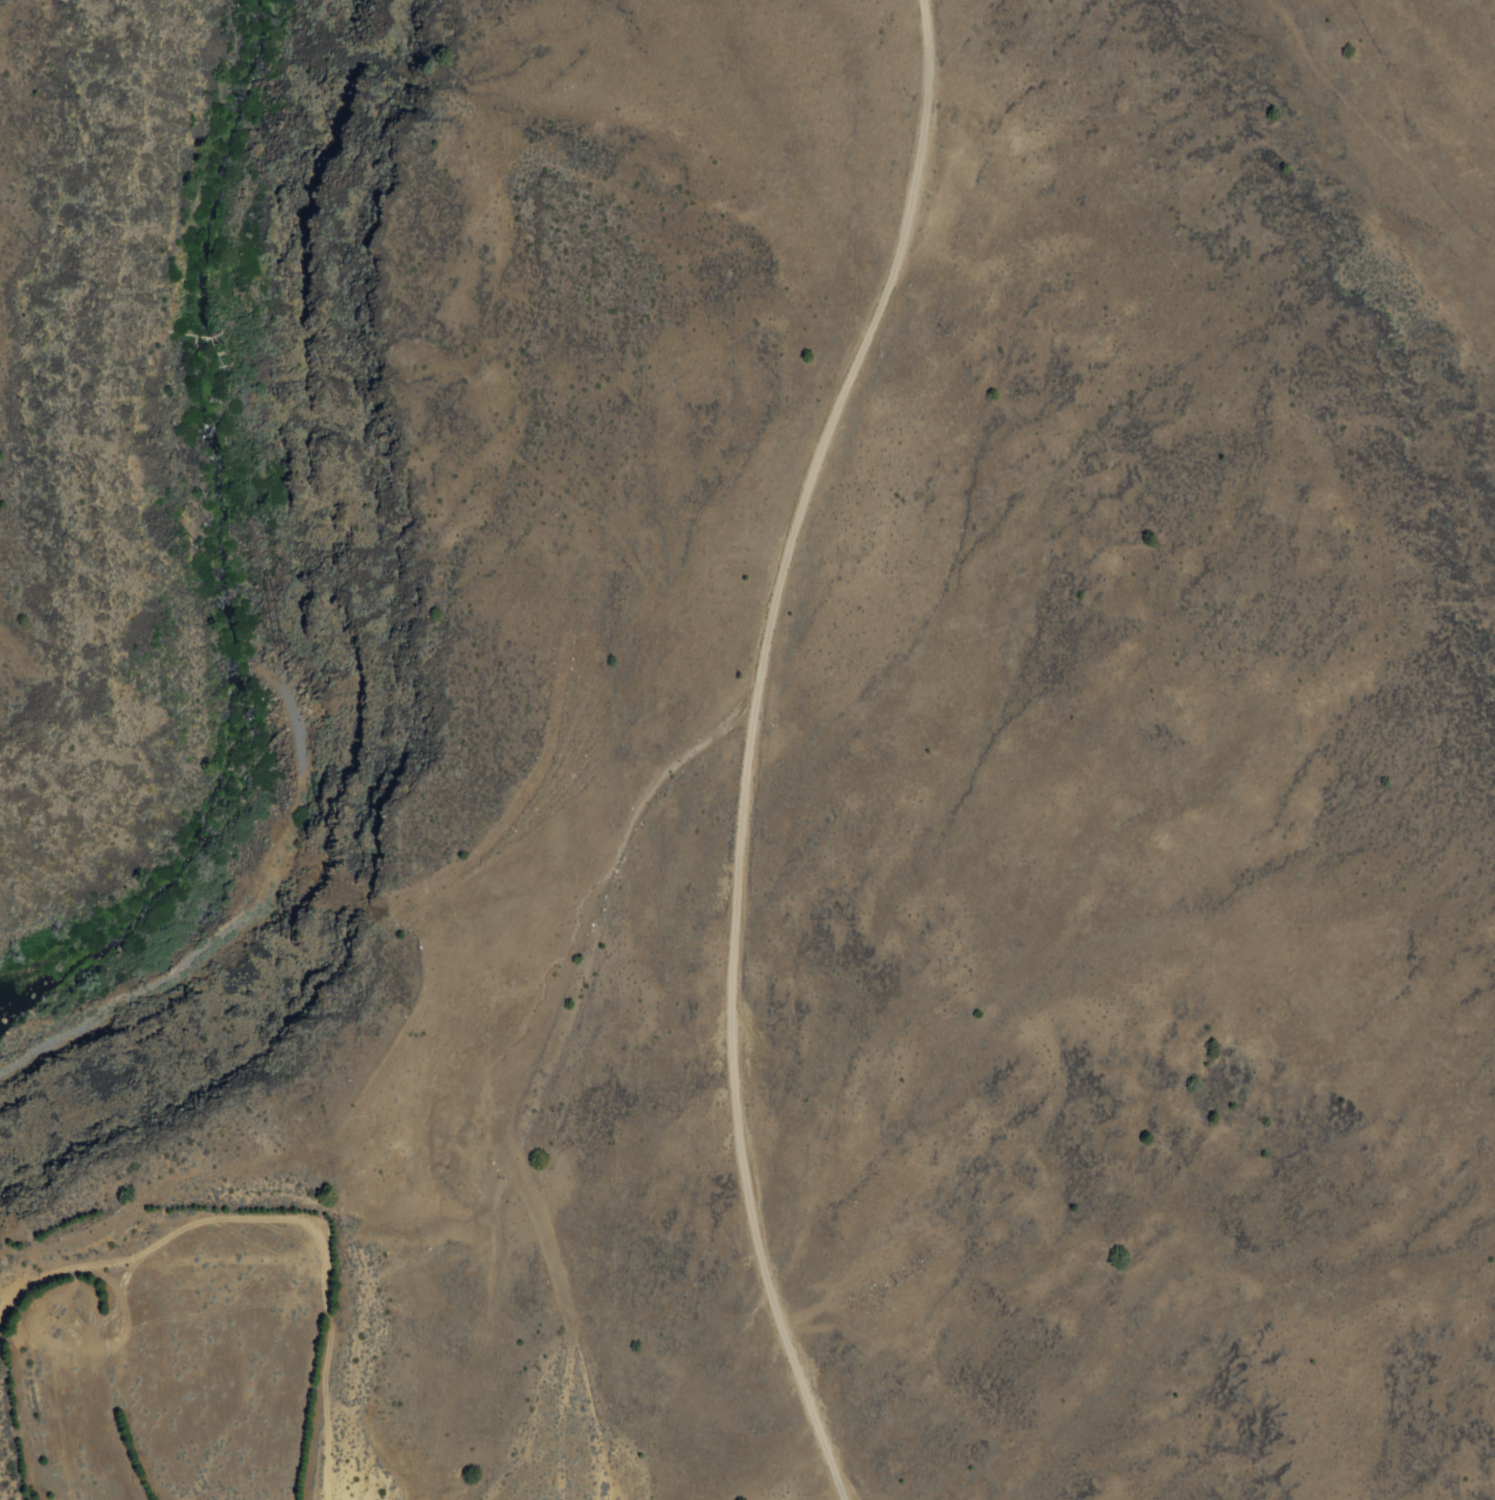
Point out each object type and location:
road: (706, 749)

